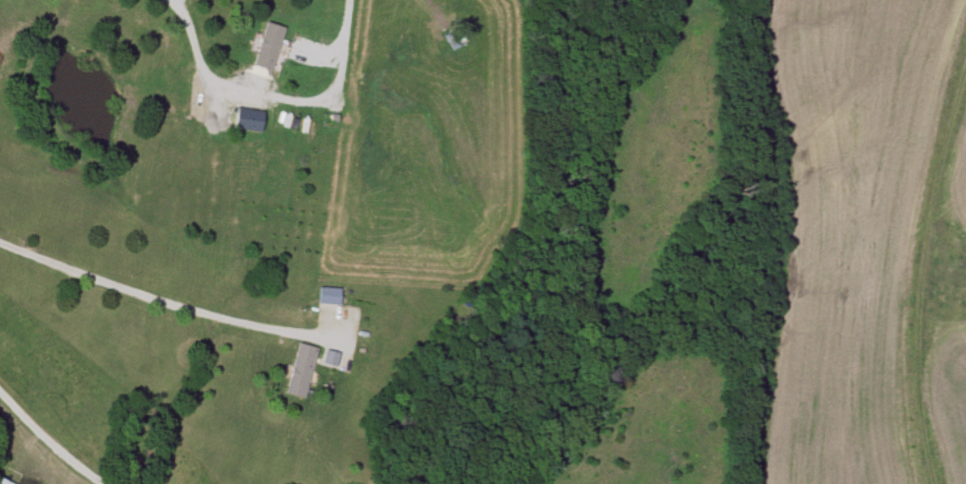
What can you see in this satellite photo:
building: (266, 47)
road: (199, 58)
building: (248, 119)
building: (326, 296)
road: (166, 302)
building: (298, 371)
road: (52, 439)
building: (2, 482)

